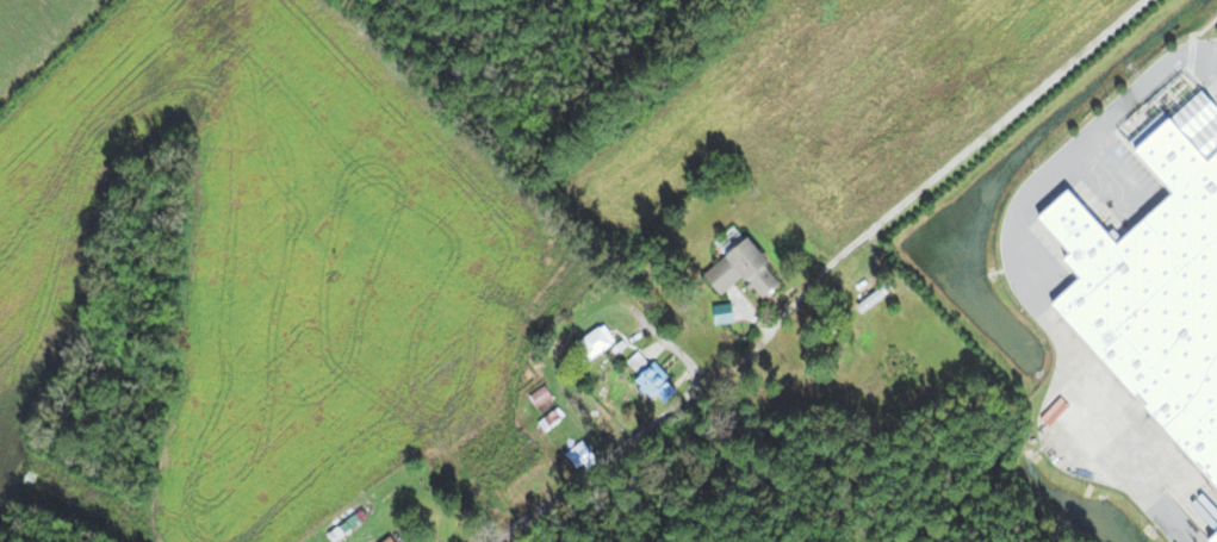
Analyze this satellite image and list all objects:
road: (1001, 114)
building: (336, 235)
building: (749, 269)
building: (1153, 287)
road: (759, 339)
building: (600, 343)
building: (659, 384)
building: (542, 395)
building: (553, 418)
building: (584, 454)
power tower: (48, 479)
building: (1209, 535)
building: (391, 540)

